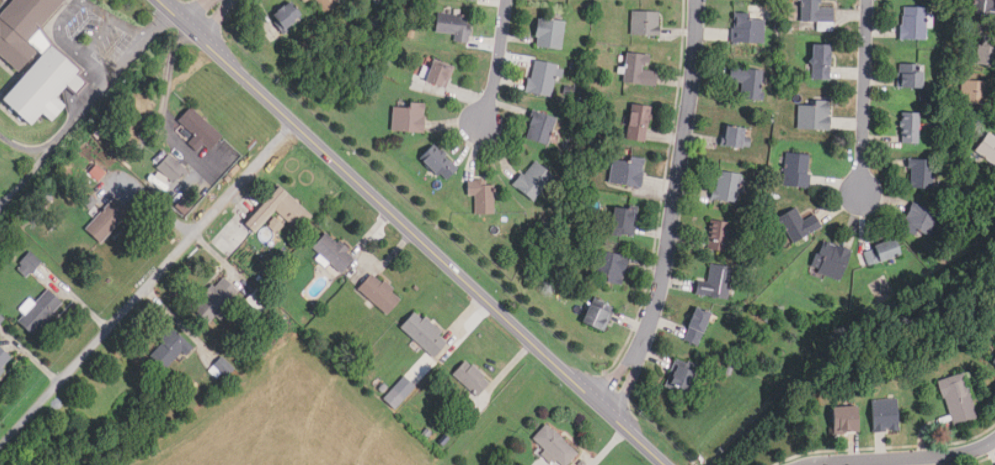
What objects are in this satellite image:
building: (304, 0)
building: (322, 4)
building: (984, 8)
road: (67, 12)
road: (205, 14)
building: (816, 14)
building: (285, 15)
building: (913, 23)
building: (644, 24)
building: (452, 25)
building: (747, 29)
building: (548, 34)
road: (97, 38)
building: (984, 56)
building: (32, 61)
road: (497, 61)
building: (819, 62)
building: (638, 70)
building: (438, 74)
building: (909, 76)
building: (541, 78)
building: (747, 82)
building: (975, 93)
road: (864, 97)
road: (94, 98)
building: (813, 115)
building: (408, 117)
building: (636, 123)
building: (539, 128)
building: (909, 128)
building: (198, 131)
building: (736, 137)
building: (987, 147)
building: (437, 163)
building: (170, 168)
building: (796, 170)
building: (626, 171)
building: (920, 174)
building: (533, 180)
building: (727, 186)
building: (480, 195)
road: (155, 201)
building: (278, 210)
road: (673, 210)
building: (106, 220)
building: (921, 220)
building: (621, 221)
building: (797, 224)
road: (413, 232)
building: (718, 235)
building: (332, 252)
building: (880, 252)
building: (830, 260)
building: (27, 264)
building: (607, 267)
building: (715, 283)
road: (148, 287)
building: (378, 293)
building: (214, 299)
road: (82, 307)
building: (38, 312)
building: (596, 316)
building: (695, 326)
building: (423, 333)
building: (168, 350)
building: (3, 356)
road: (34, 361)
building: (993, 361)
building: (219, 367)
building: (681, 376)
building: (470, 377)
building: (393, 398)
building: (956, 400)
building: (883, 414)
building: (842, 419)
building: (554, 444)
road: (904, 460)

